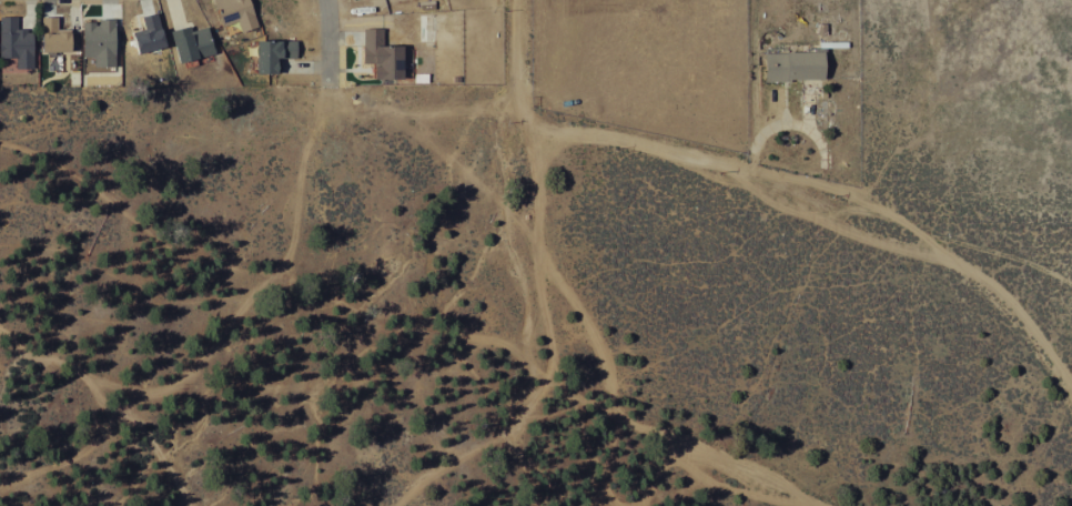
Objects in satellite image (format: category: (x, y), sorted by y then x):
building: (236, 13)
building: (150, 33)
building: (54, 36)
building: (100, 41)
building: (16, 42)
building: (192, 42)
road: (327, 51)
building: (274, 53)
building: (383, 54)
building: (796, 65)
road: (423, 105)
road: (837, 188)
road: (773, 199)
road: (527, 240)
road: (543, 313)
road: (224, 333)
road: (504, 345)
road: (118, 405)
road: (482, 448)

